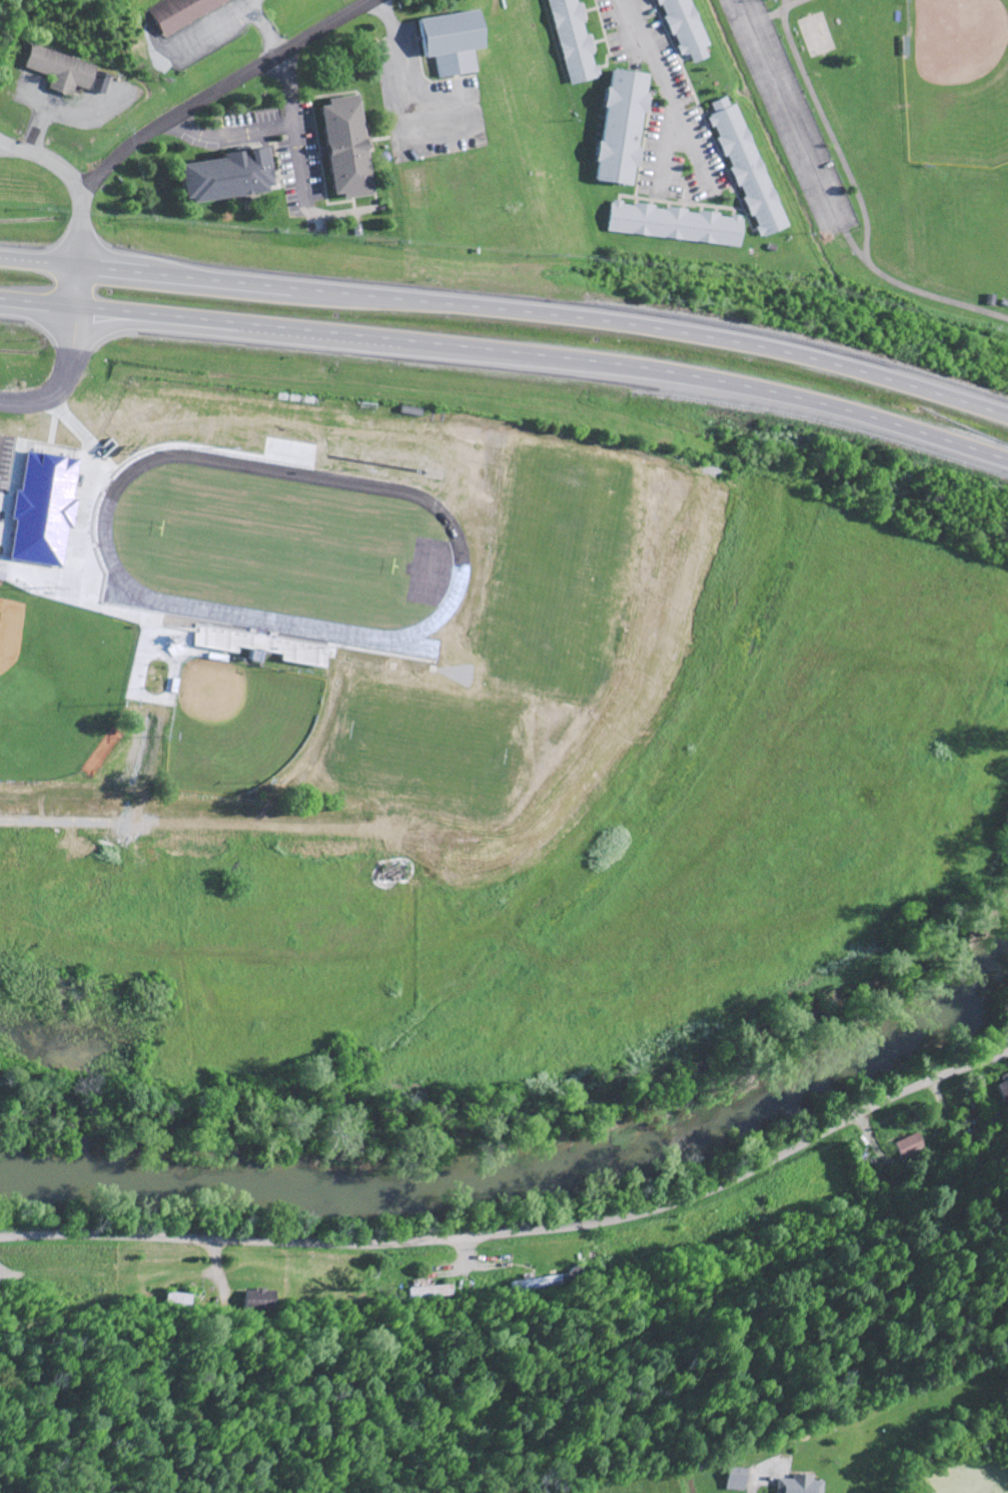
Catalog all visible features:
building: (204, 6)
road: (382, 10)
building: (171, 14)
building: (683, 27)
road: (268, 32)
parking lot: (207, 33)
park: (814, 34)
building: (450, 40)
building: (572, 40)
road: (659, 67)
building: (65, 73)
park: (957, 80)
road: (219, 89)
parking lot: (424, 101)
road: (398, 105)
parking lot: (668, 112)
road: (295, 115)
parking lot: (791, 115)
building: (620, 124)
park: (915, 134)
road: (233, 135)
building: (346, 146)
building: (746, 168)
building: (224, 175)
road: (72, 181)
road: (860, 199)
building: (673, 222)
road: (857, 248)
road: (509, 308)
road: (509, 352)
road: (69, 357)
building: (468, 498)
parking lot: (50, 502)
park: (7, 511)
road: (47, 524)
track: (457, 543)
park: (276, 546)
building: (70, 567)
building: (1, 576)
building: (252, 655)
park: (57, 684)
park: (236, 724)
building: (1004, 1091)
building: (913, 1149)
river: (533, 1169)
road: (522, 1233)
building: (432, 1293)
building: (179, 1300)
building: (261, 1302)
building: (733, 1480)
road: (757, 1480)
building: (797, 1485)

